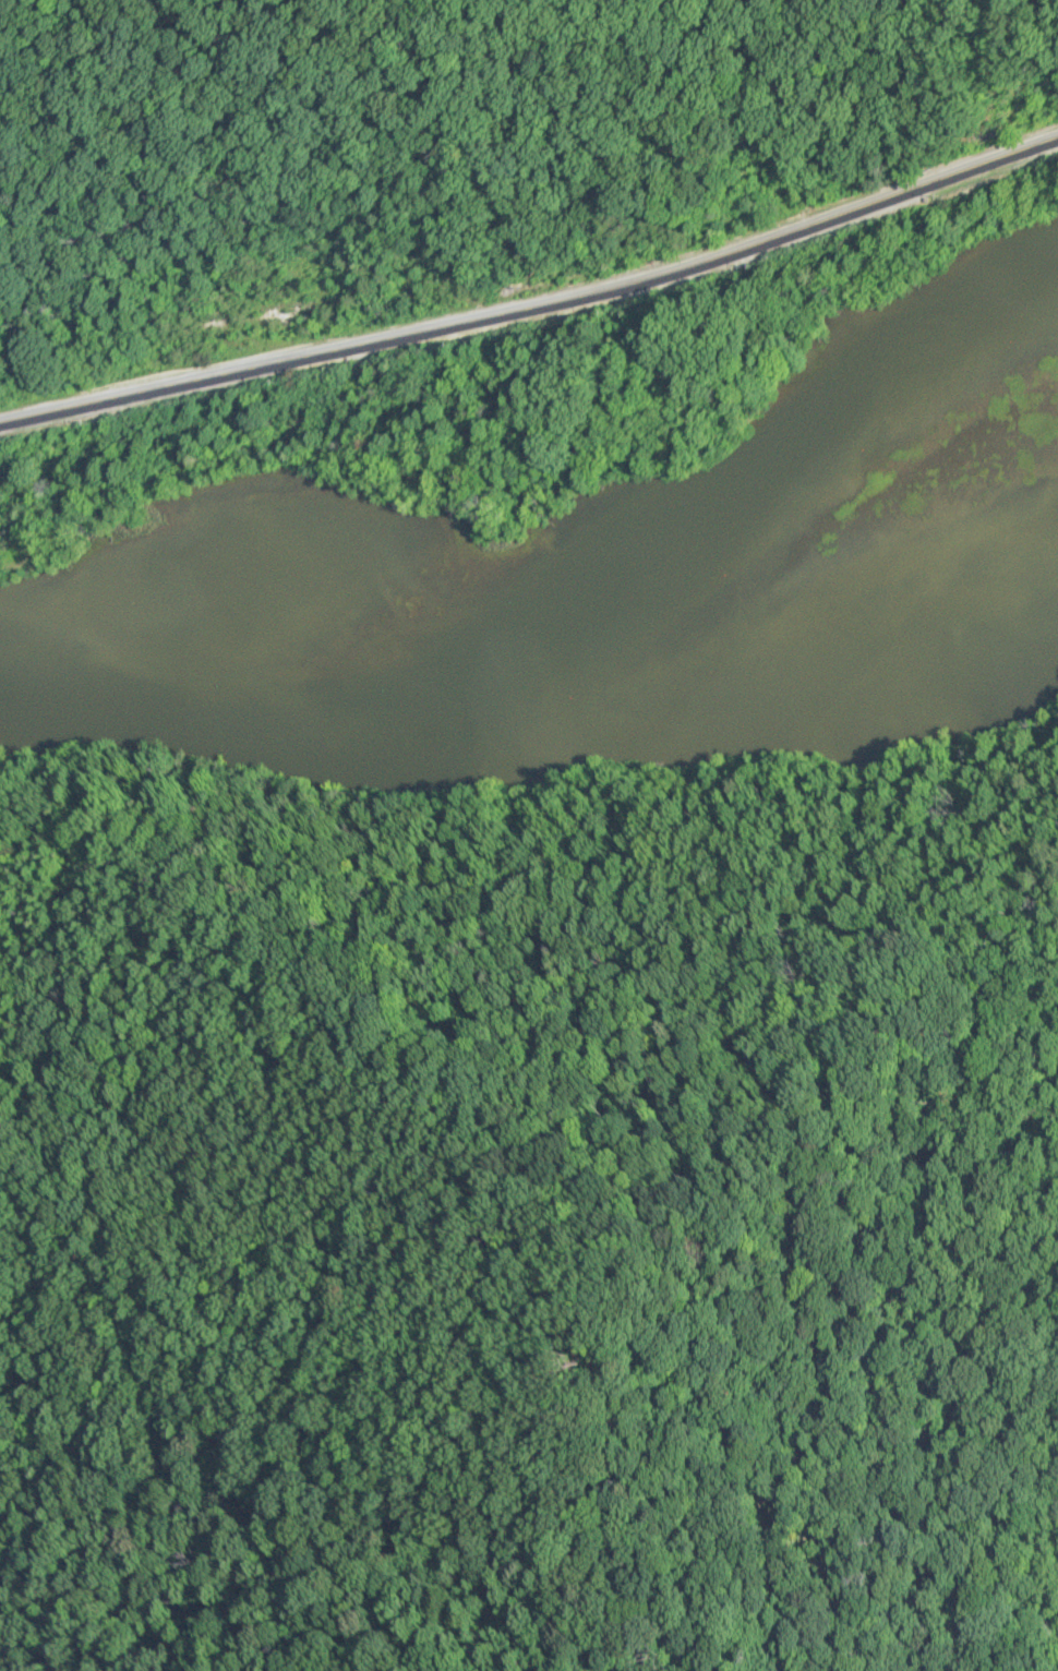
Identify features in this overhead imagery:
road: (537, 305)
river: (588, 633)
road: (479, 846)

